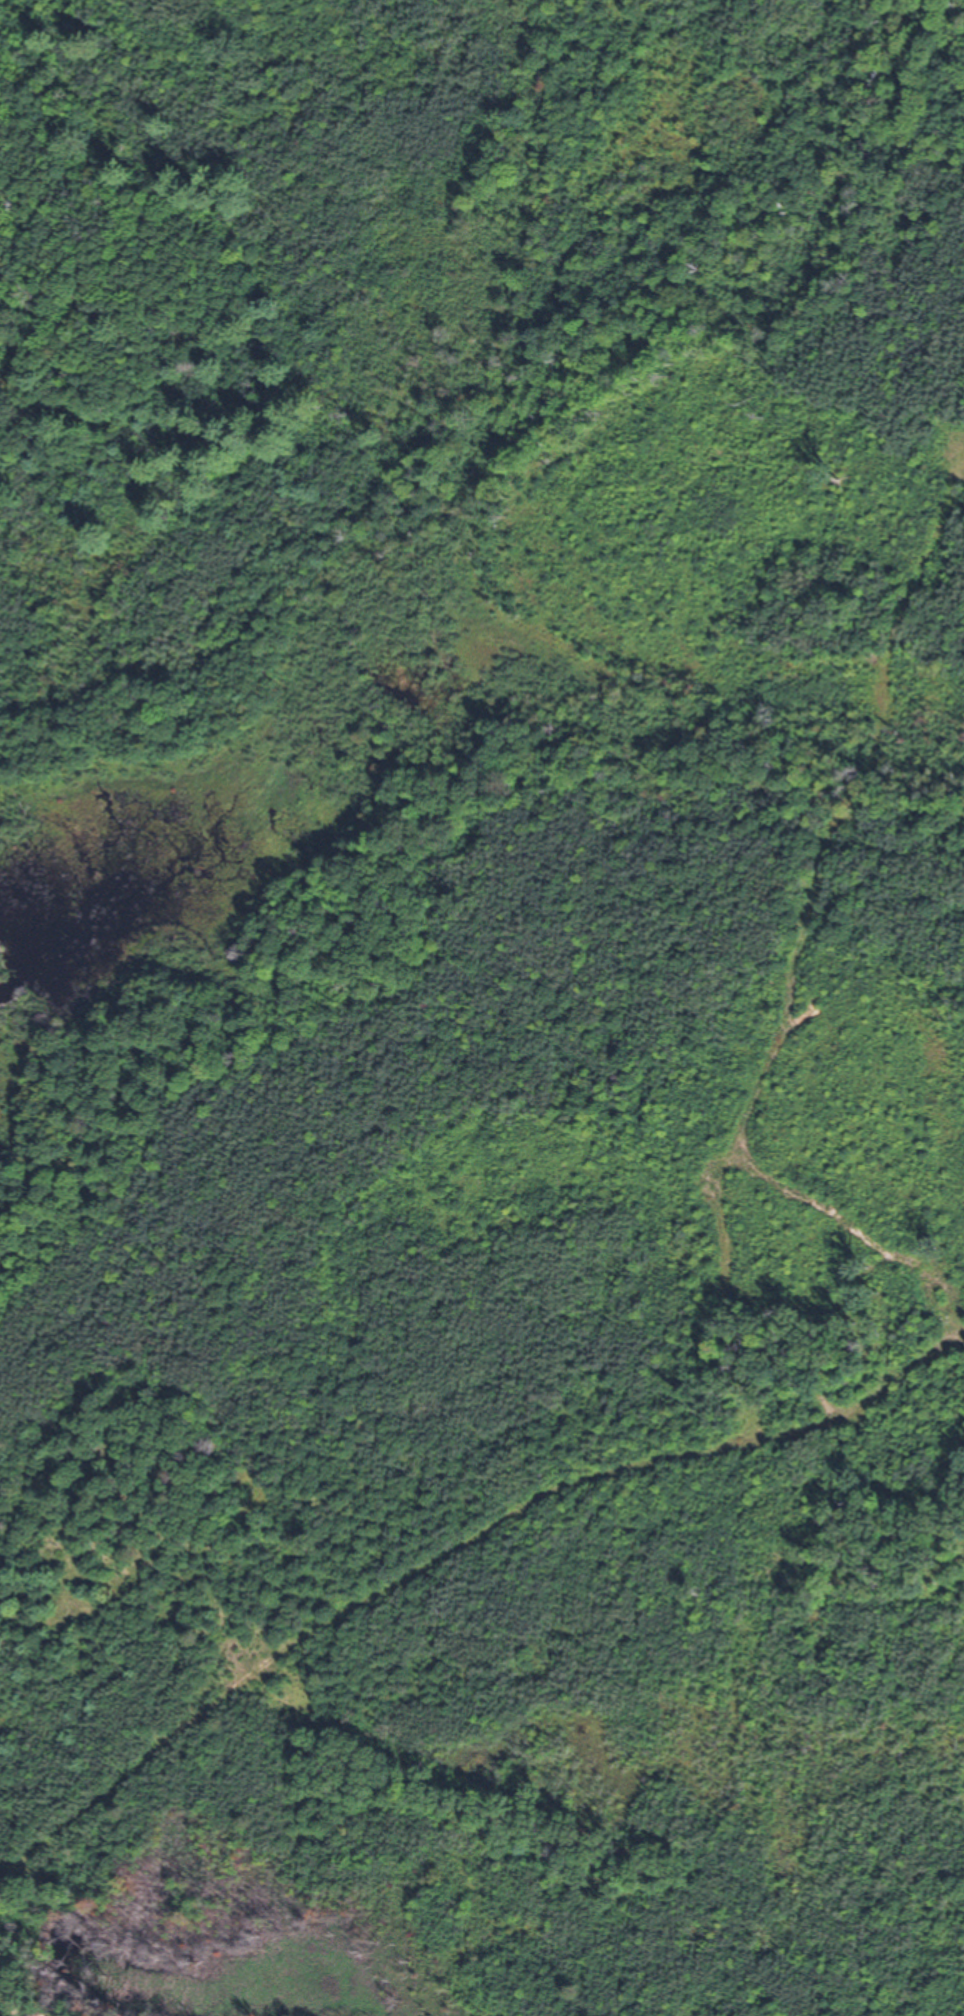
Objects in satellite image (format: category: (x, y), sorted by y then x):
road: (28, 2004)

